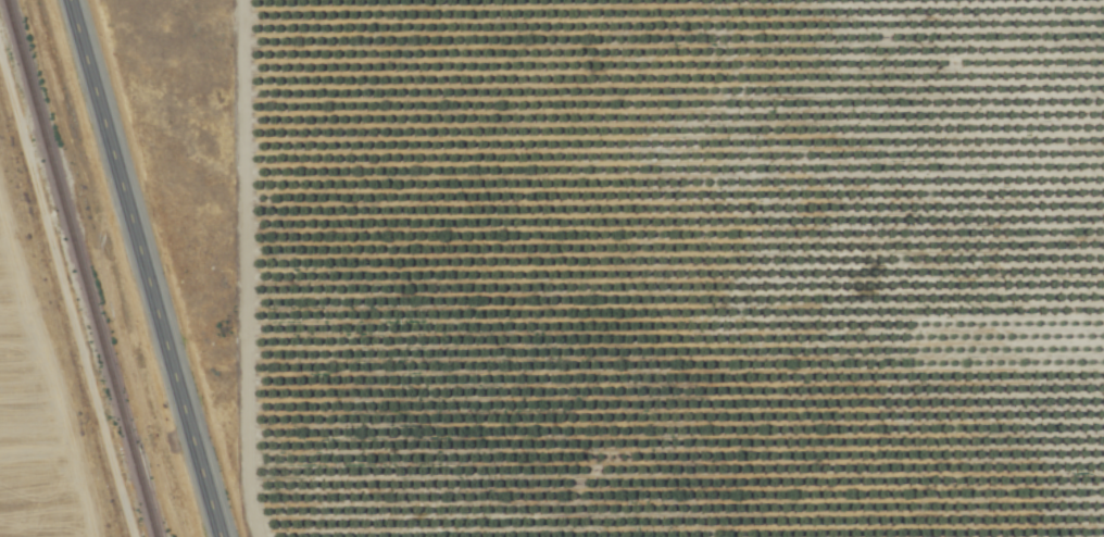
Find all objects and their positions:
crop: (665, 267)
railway: (76, 268)
road: (146, 268)

